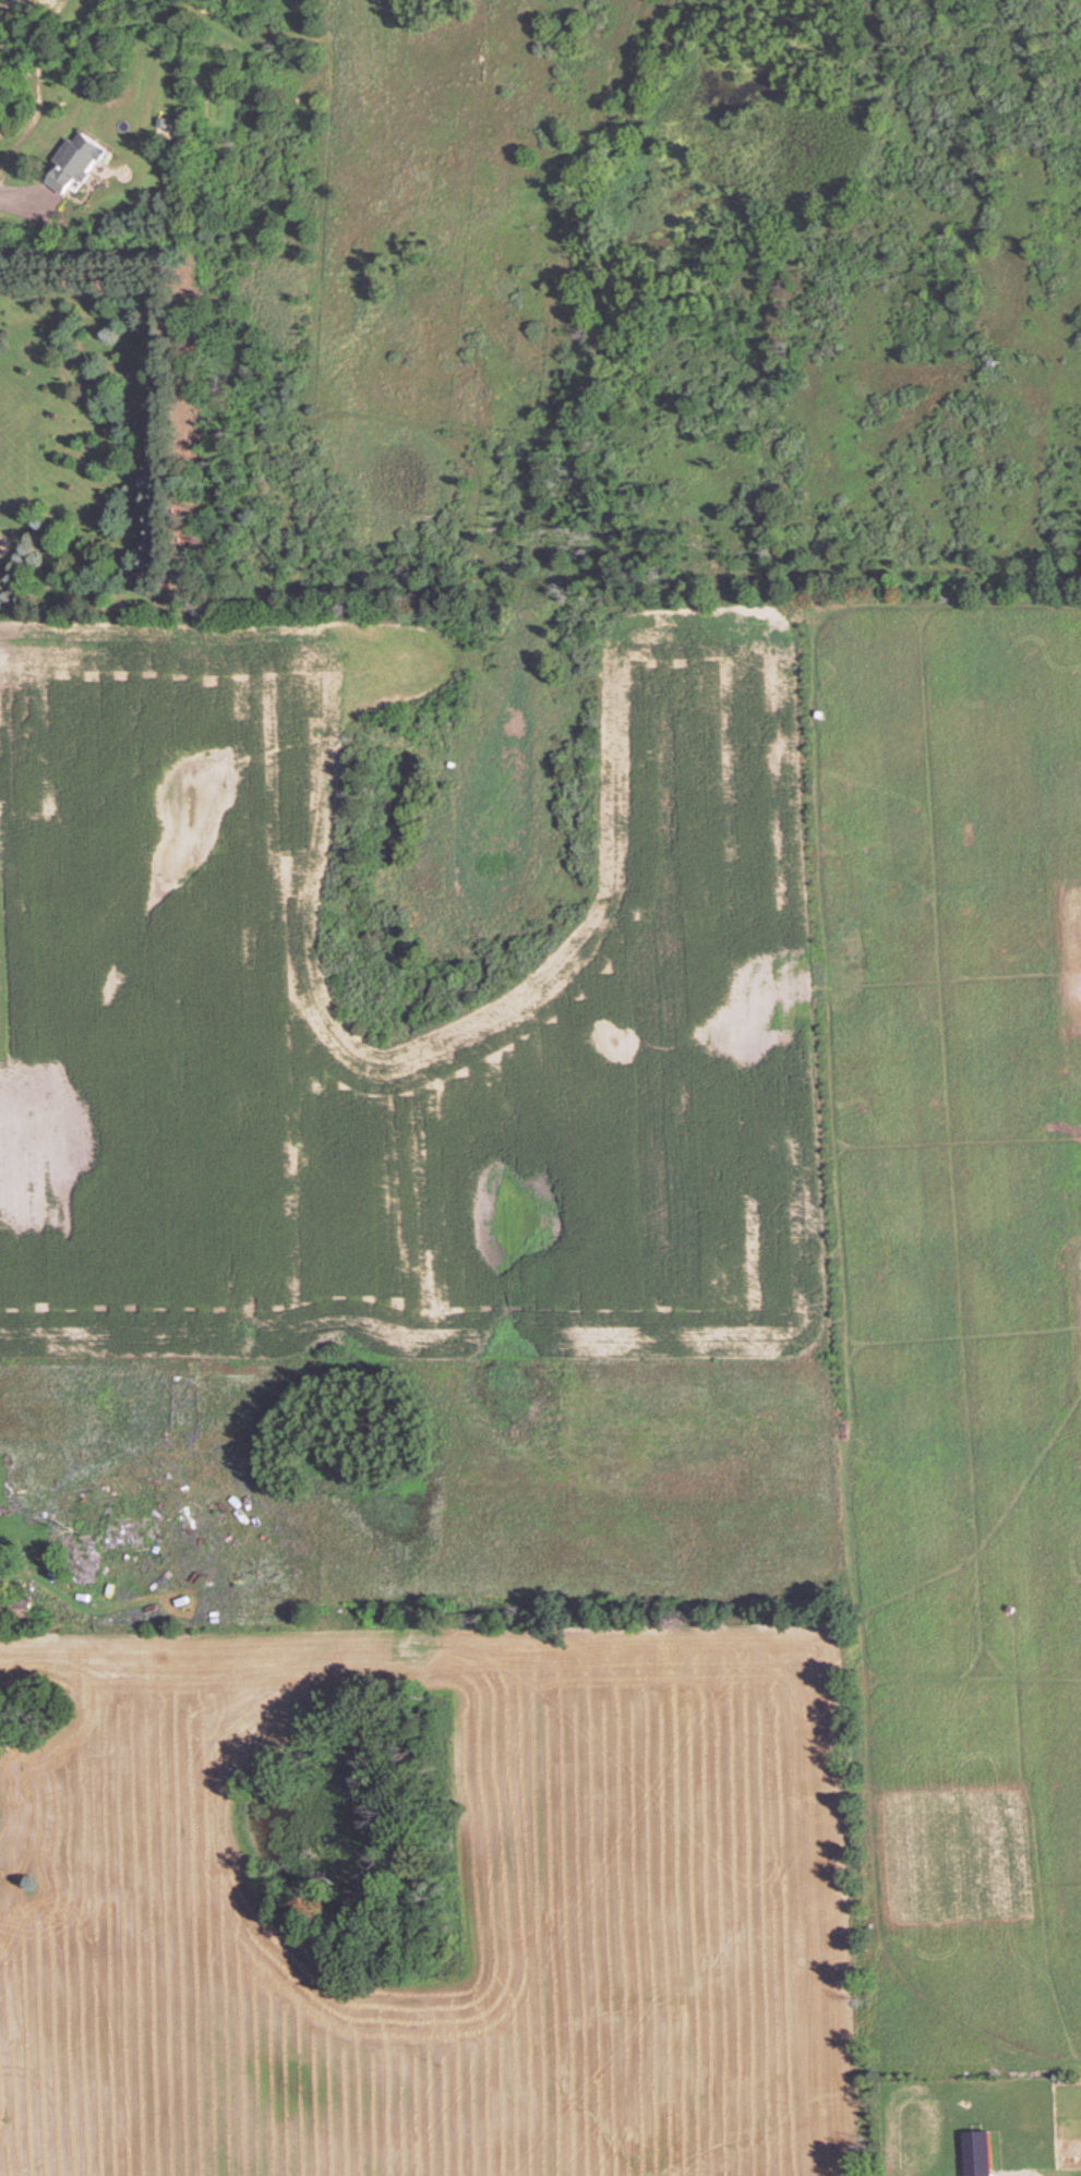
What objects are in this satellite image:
building: (69, 164)
road: (14, 203)
building: (97, 1547)
building: (13, 1610)
building: (974, 2154)

